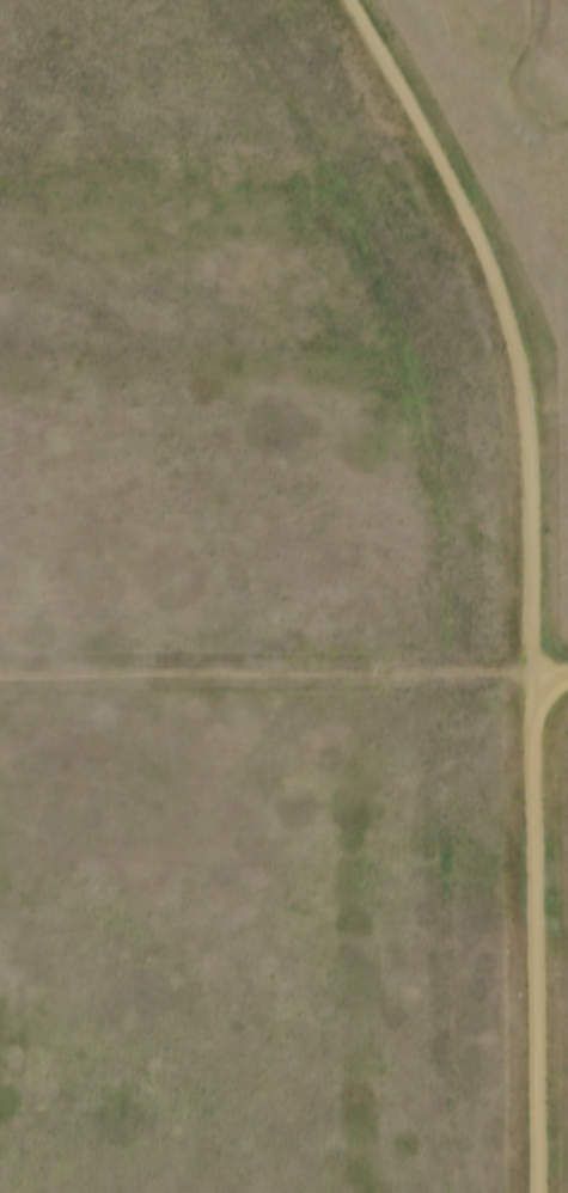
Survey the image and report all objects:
road: (537, 576)
road: (269, 674)
road: (554, 677)

